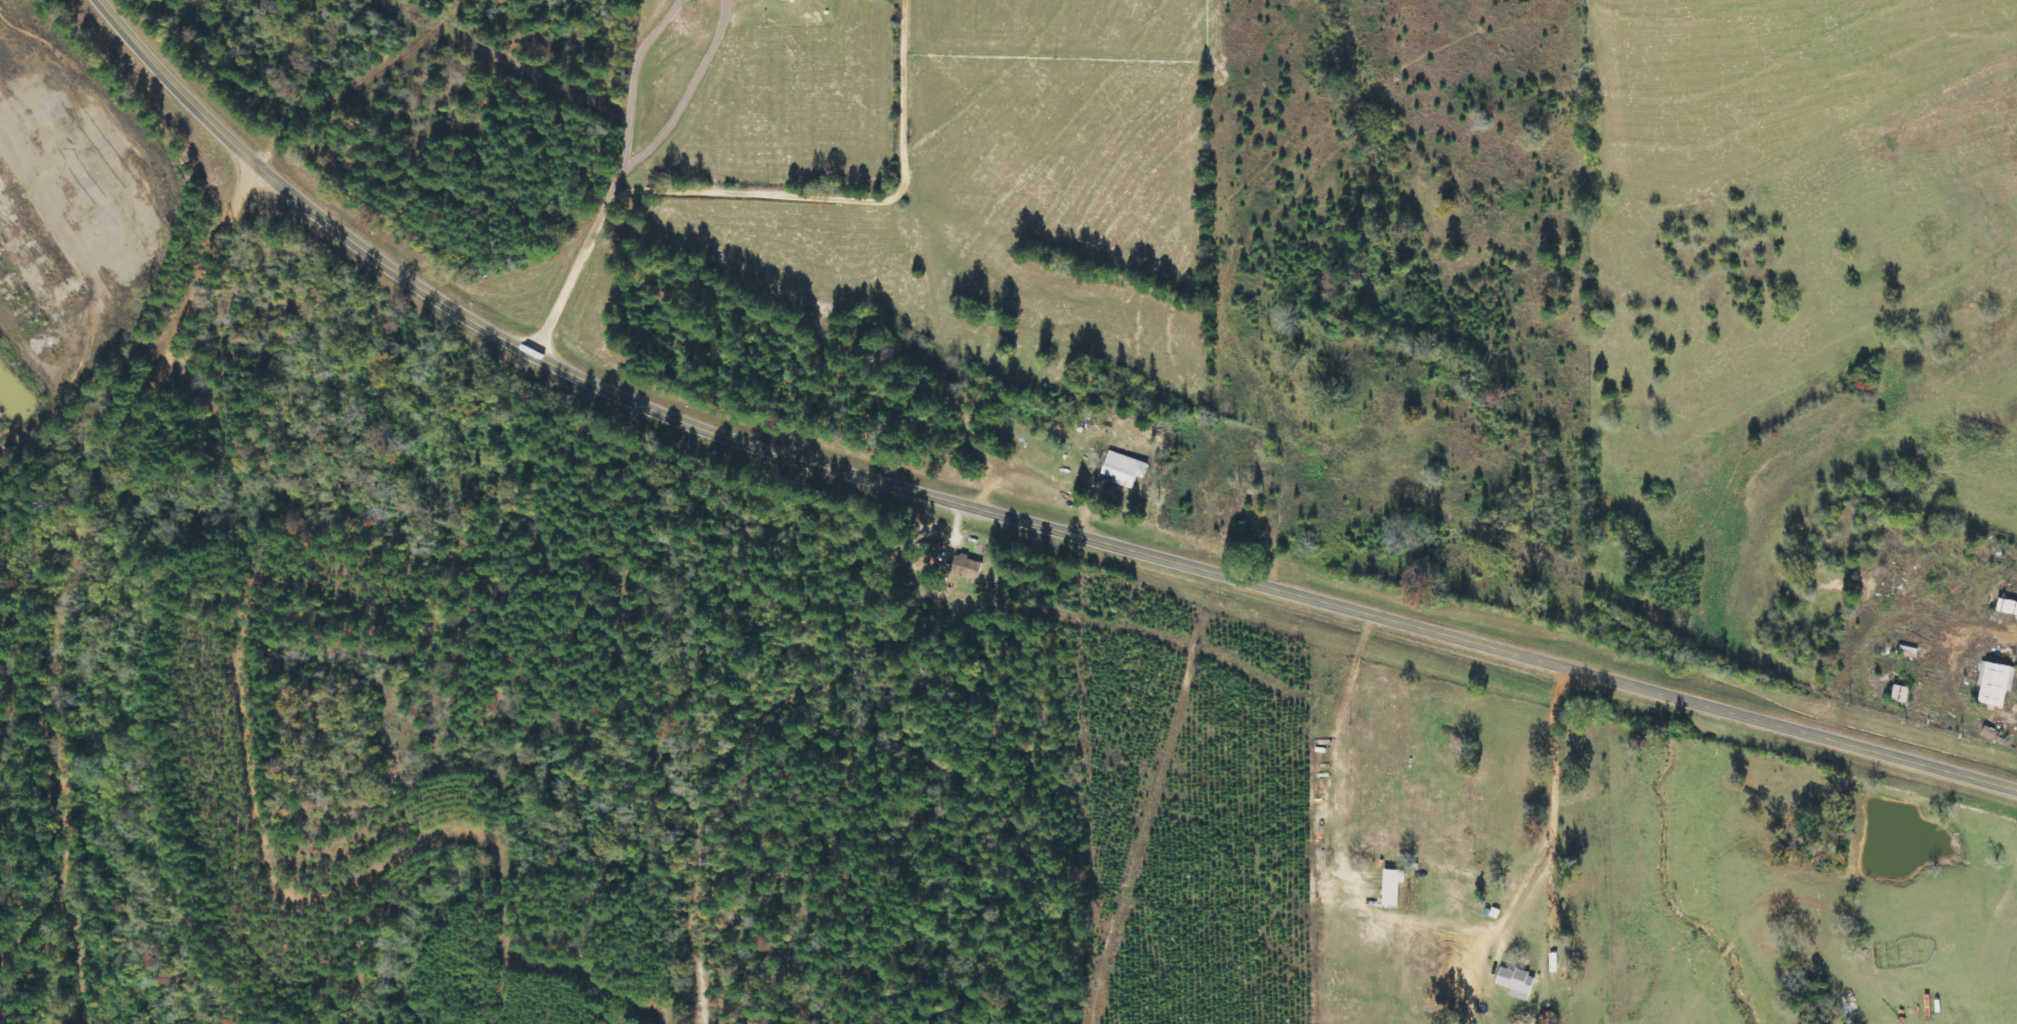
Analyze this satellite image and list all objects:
road: (606, 170)
building: (1126, 469)
road: (995, 521)
road: (82, 562)
building: (970, 567)
road: (1004, 586)
building: (1996, 683)
road: (1373, 709)
road: (62, 976)
building: (1519, 983)

